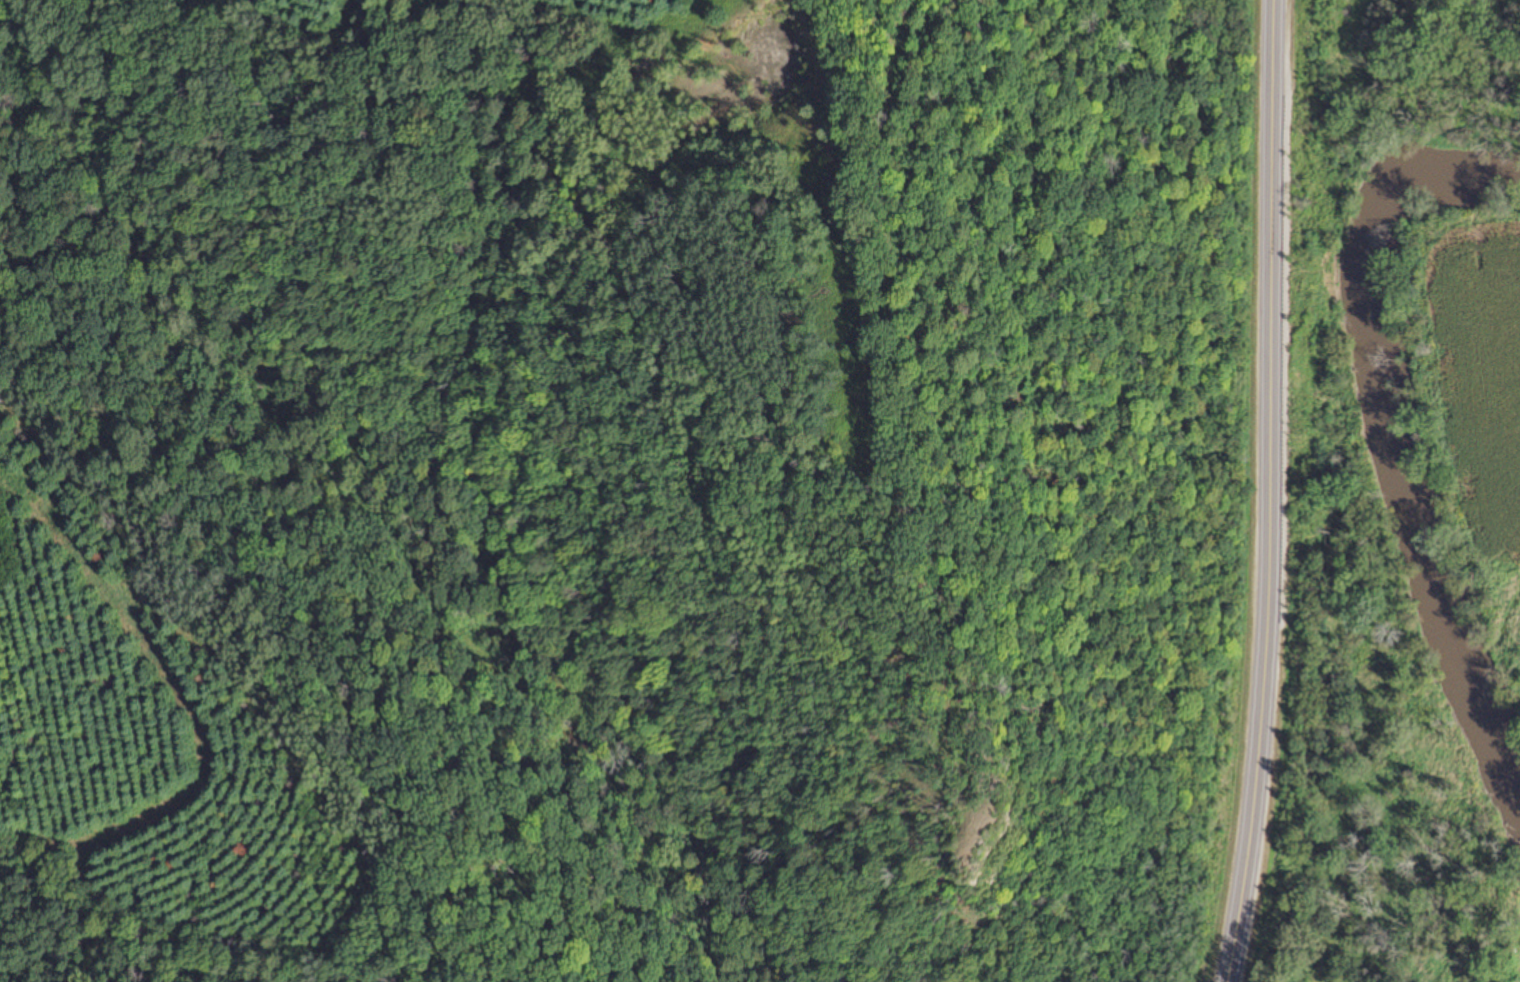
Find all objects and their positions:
river: (1398, 437)
road: (1269, 492)

